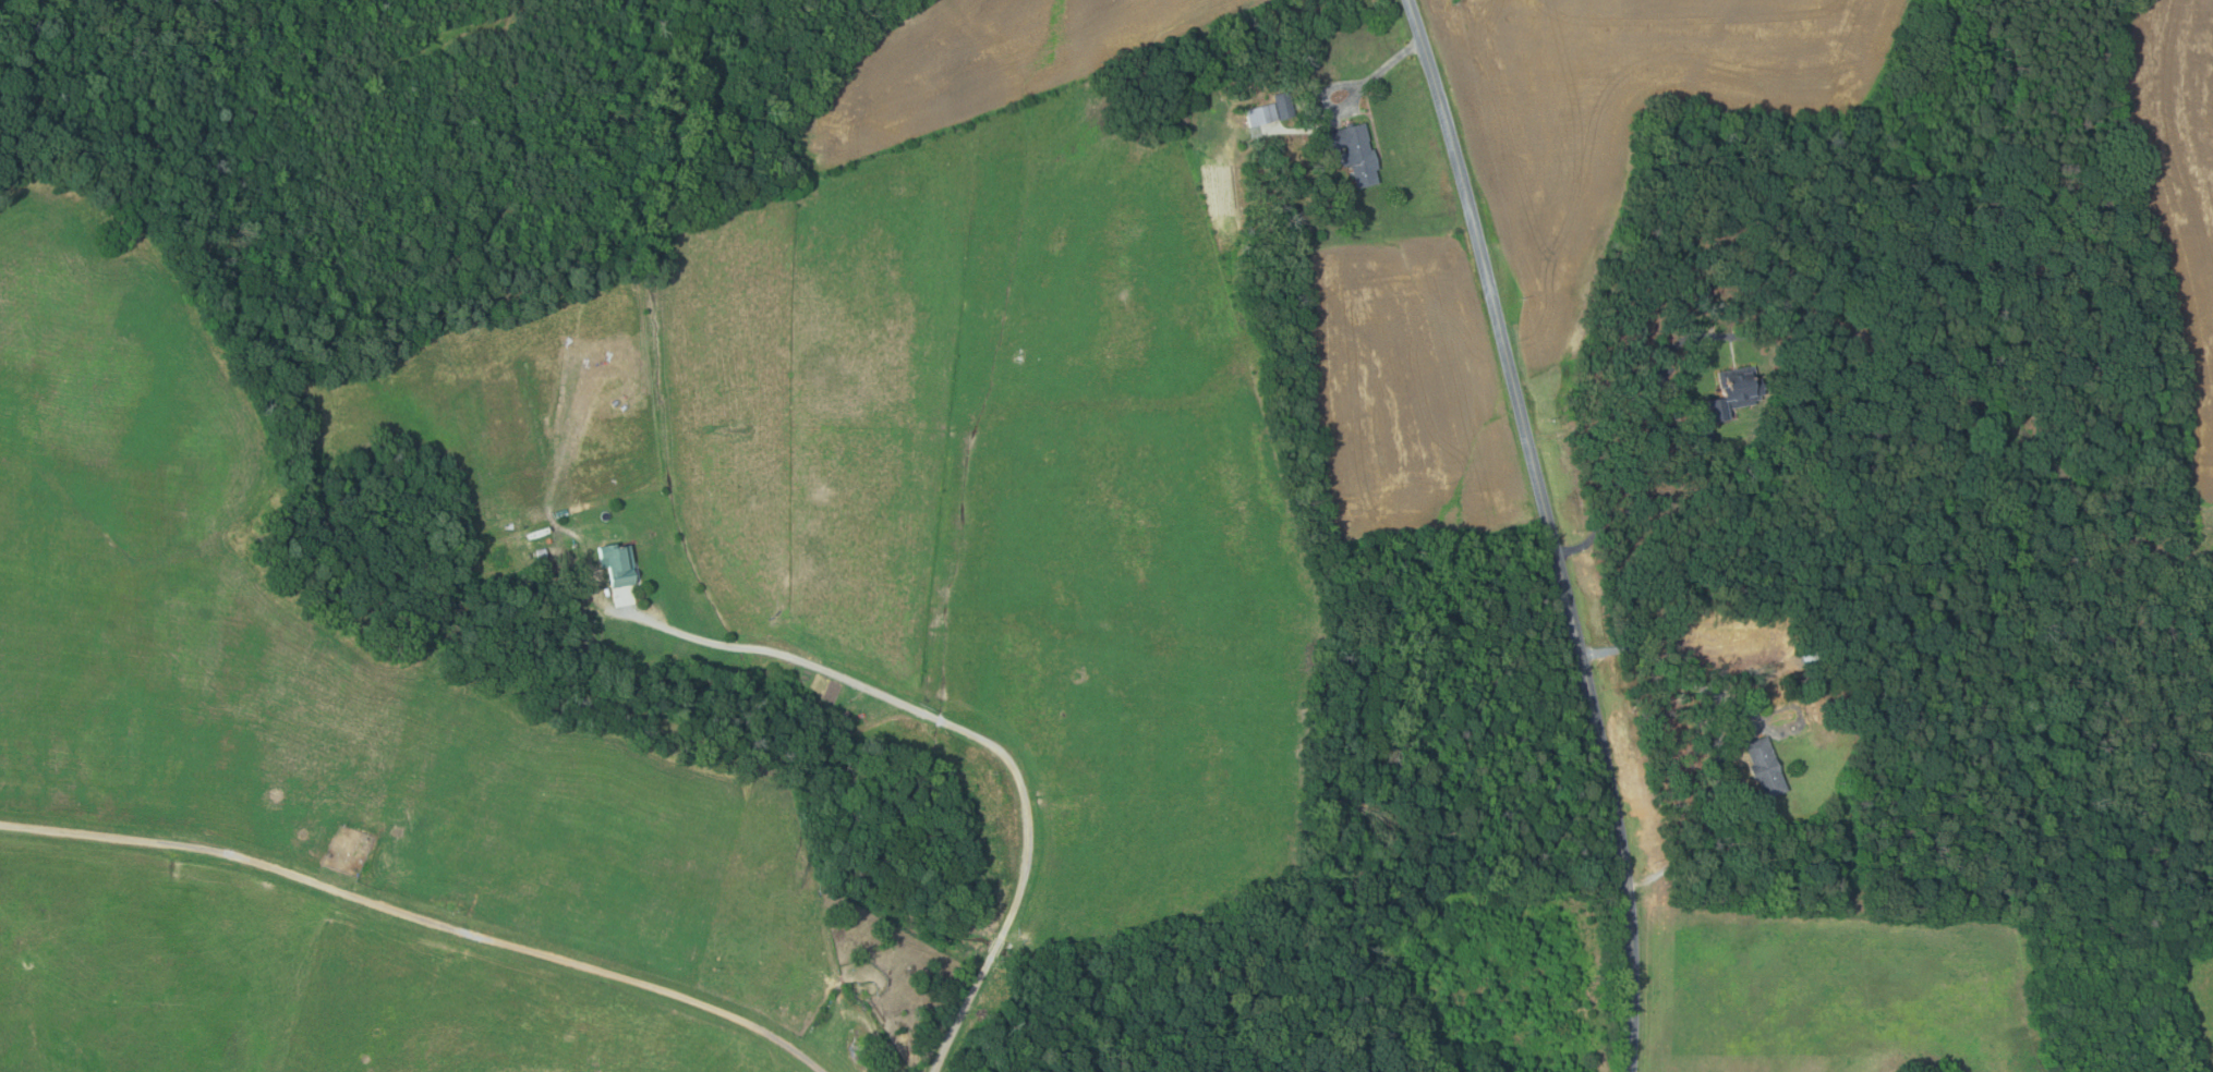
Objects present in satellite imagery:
crop: (985, 63)
road: (1355, 95)
building: (1285, 105)
building: (1262, 113)
crop: (1613, 136)
building: (1354, 150)
crop: (2179, 188)
building: (1731, 391)
crop: (1406, 393)
road: (1643, 414)
building: (1701, 433)
building: (519, 475)
road: (1550, 531)
building: (619, 562)
building: (581, 585)
building: (1809, 658)
road: (929, 717)
road: (1718, 739)
building: (1762, 767)
road: (420, 917)
road: (996, 947)
road: (963, 1012)

